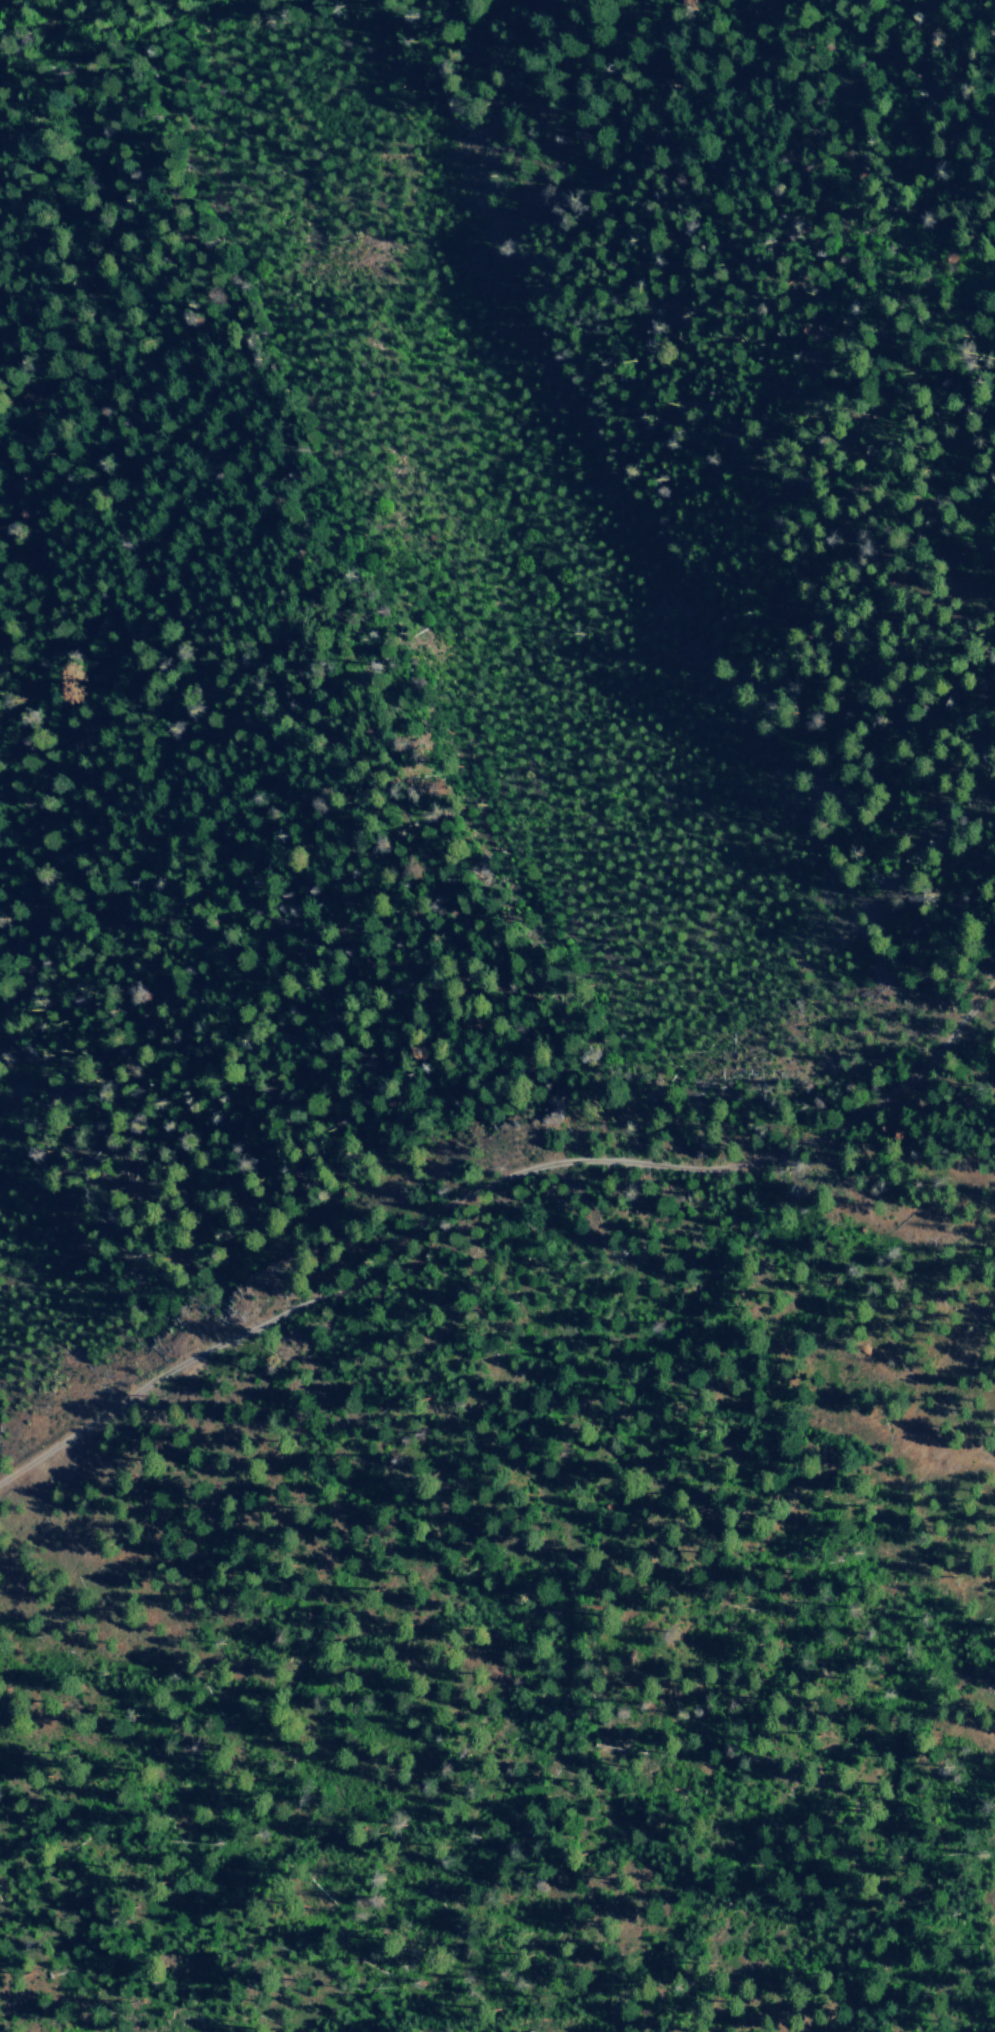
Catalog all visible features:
road: (487, 1178)

